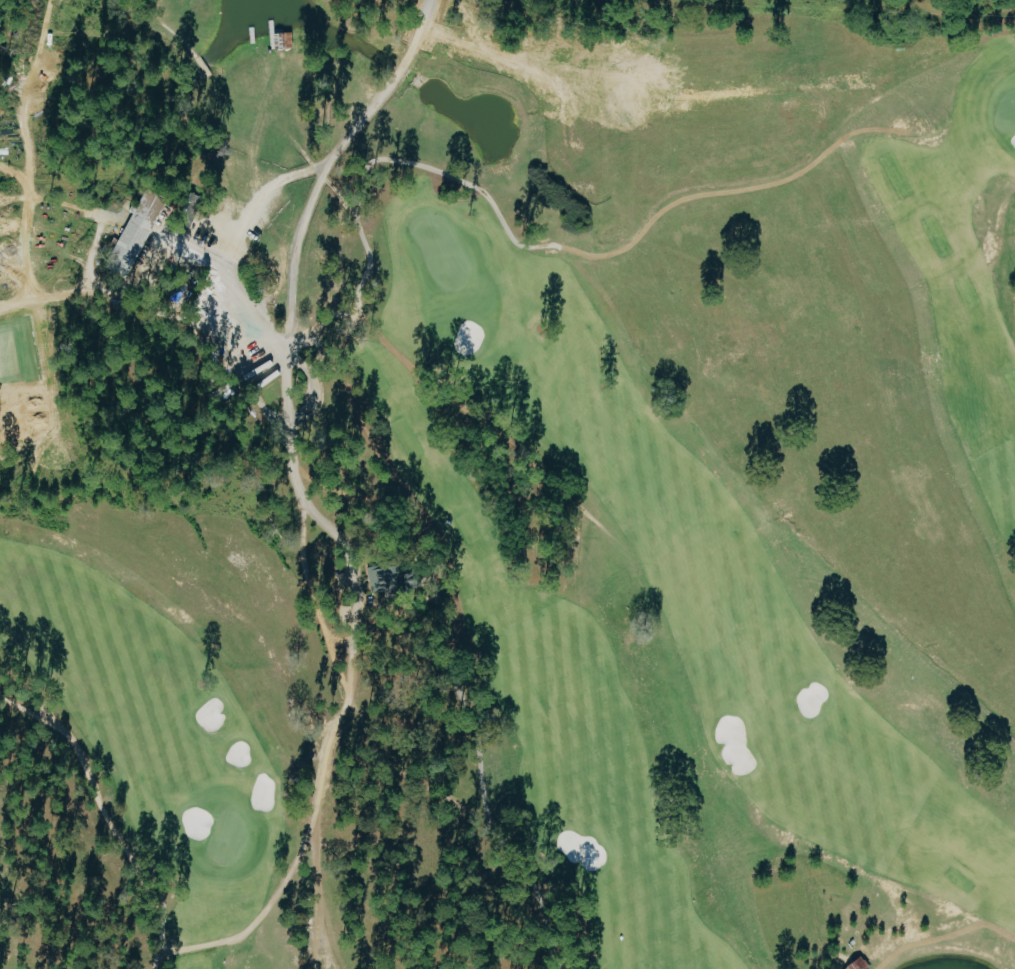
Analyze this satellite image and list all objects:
park: (997, 23)
road: (863, 134)
road: (752, 186)
building: (190, 210)
building: (136, 233)
road: (234, 243)
road: (296, 296)
road: (313, 398)
park: (8, 471)
park: (512, 484)
park: (483, 737)
park: (67, 854)
building: (859, 964)

